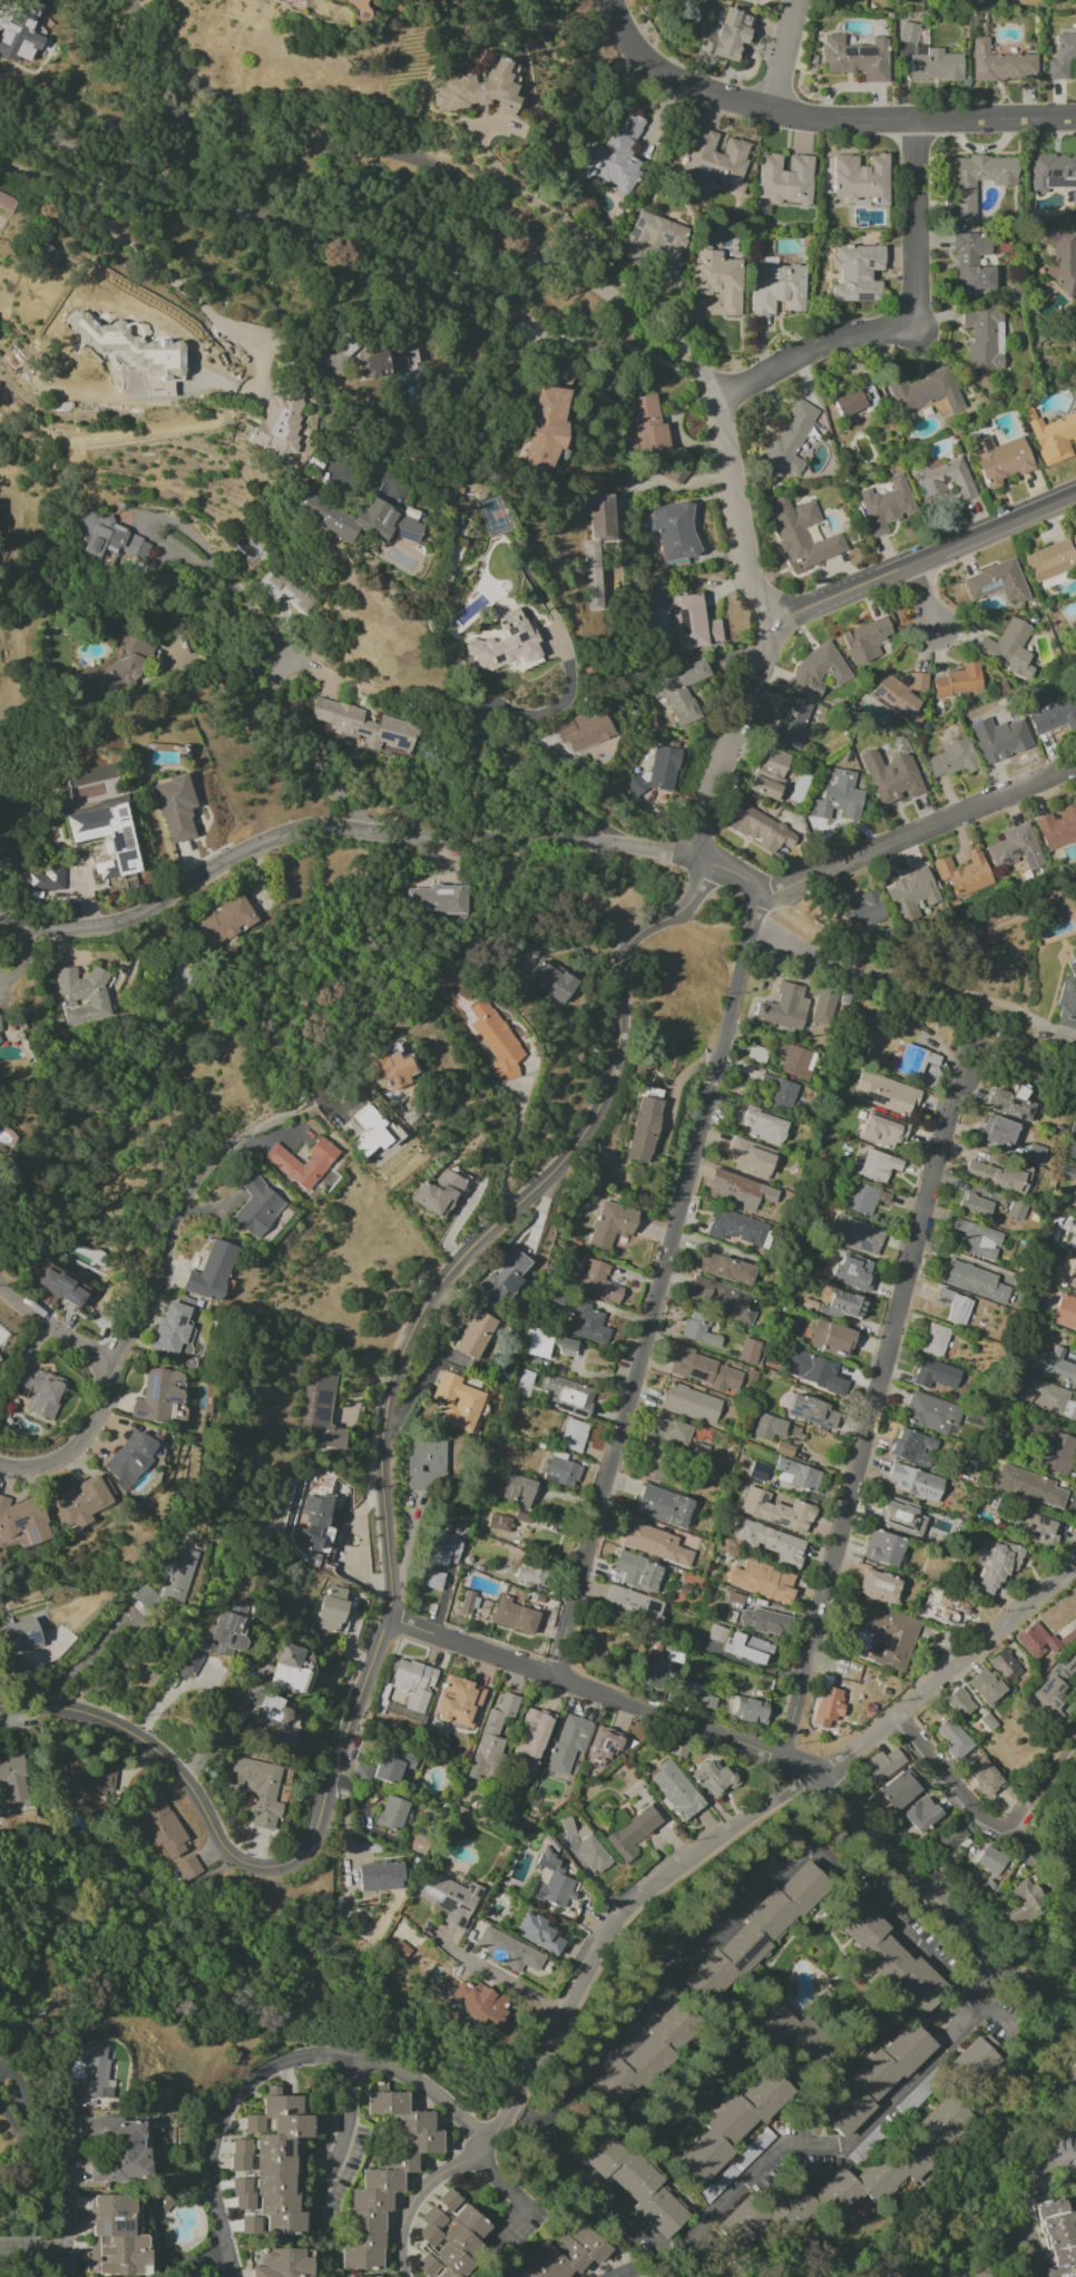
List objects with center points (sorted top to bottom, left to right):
building: (14, 30)
building: (908, 32)
building: (730, 33)
road: (783, 56)
building: (1063, 56)
building: (857, 58)
building: (999, 62)
building: (935, 66)
road: (669, 80)
building: (479, 90)
road: (994, 119)
road: (841, 120)
building: (615, 156)
building: (715, 159)
building: (1054, 174)
building: (784, 178)
building: (860, 178)
road: (420, 183)
building: (7, 201)
building: (963, 202)
road: (546, 207)
road: (271, 218)
building: (656, 240)
road: (129, 245)
building: (1060, 257)
building: (971, 261)
building: (857, 272)
building: (716, 277)
building: (776, 287)
building: (1075, 317)
road: (899, 319)
building: (984, 339)
building: (133, 351)
building: (373, 361)
building: (563, 374)
building: (923, 391)
building: (855, 400)
building: (281, 420)
building: (547, 427)
building: (648, 427)
road: (341, 432)
building: (1054, 438)
building: (789, 439)
building: (1000, 459)
building: (942, 479)
road: (665, 483)
building: (886, 505)
road: (737, 516)
building: (361, 519)
building: (675, 530)
building: (802, 532)
building: (105, 535)
building: (1075, 536)
building: (597, 546)
road: (925, 560)
building: (1049, 560)
building: (997, 582)
road: (927, 600)
building: (693, 622)
road: (265, 627)
building: (864, 639)
building: (503, 643)
building: (1008, 648)
building: (818, 670)
road: (209, 673)
building: (958, 681)
building: (683, 691)
building: (900, 696)
building: (1047, 713)
building: (791, 721)
building: (363, 726)
road: (732, 735)
building: (1002, 737)
building: (951, 759)
building: (656, 771)
building: (770, 774)
building: (891, 776)
building: (837, 797)
road: (627, 799)
building: (175, 807)
building: (755, 827)
building: (1057, 827)
road: (338, 828)
road: (918, 830)
building: (104, 834)
building: (1015, 848)
road: (727, 871)
building: (963, 873)
building: (47, 878)
building: (910, 893)
building: (438, 900)
building: (859, 911)
building: (224, 921)
building: (967, 930)
road: (577, 944)
building: (551, 980)
building: (796, 987)
building: (82, 995)
building: (1067, 999)
road: (1068, 1037)
building: (496, 1040)
building: (0, 1043)
building: (794, 1059)
building: (920, 1065)
building: (391, 1066)
building: (776, 1092)
building: (887, 1094)
building: (1010, 1103)
building: (366, 1121)
building: (763, 1124)
building: (643, 1130)
building: (883, 1130)
building: (997, 1131)
road: (511, 1144)
building: (1035, 1154)
building: (751, 1157)
building: (281, 1160)
building: (878, 1165)
building: (998, 1175)
building: (741, 1190)
building: (438, 1193)
building: (1074, 1193)
building: (865, 1199)
building: (975, 1205)
building: (256, 1208)
building: (1015, 1210)
building: (612, 1224)
building: (735, 1228)
building: (858, 1234)
building: (977, 1239)
building: (723, 1267)
building: (212, 1271)
building: (853, 1272)
building: (503, 1277)
building: (974, 1281)
building: (1074, 1281)
building: (600, 1282)
road: (658, 1284)
road: (156, 1298)
building: (723, 1299)
building: (842, 1304)
building: (952, 1306)
building: (1065, 1312)
road: (49, 1322)
building: (587, 1323)
building: (698, 1330)
building: (173, 1331)
road: (409, 1335)
building: (475, 1335)
building: (830, 1338)
building: (933, 1340)
building: (548, 1343)
building: (749, 1350)
building: (1073, 1351)
building: (1053, 1364)
building: (704, 1370)
building: (812, 1370)
building: (936, 1375)
building: (40, 1392)
building: (157, 1395)
building: (568, 1395)
building: (1041, 1395)
building: (457, 1401)
building: (691, 1404)
road: (876, 1406)
building: (321, 1410)
building: (811, 1411)
building: (931, 1414)
building: (769, 1427)
building: (671, 1430)
building: (573, 1435)
building: (910, 1445)
building: (1048, 1446)
building: (783, 1448)
building: (700, 1452)
building: (130, 1457)
building: (424, 1463)
building: (757, 1470)
building: (561, 1472)
building: (796, 1475)
building: (914, 1483)
building: (1028, 1486)
building: (515, 1489)
building: (82, 1502)
building: (664, 1506)
building: (774, 1511)
building: (900, 1516)
building: (22, 1522)
building: (499, 1523)
building: (316, 1526)
building: (1036, 1528)
building: (771, 1543)
building: (655, 1544)
building: (882, 1548)
building: (443, 1550)
building: (998, 1565)
building: (638, 1572)
building: (177, 1574)
building: (529, 1574)
building: (431, 1579)
building: (762, 1582)
building: (879, 1586)
building: (146, 1595)
building: (734, 1601)
building: (468, 1602)
building: (633, 1605)
building: (331, 1609)
building: (947, 1610)
building: (513, 1615)
building: (764, 1622)
building: (226, 1630)
building: (716, 1633)
building: (20, 1635)
building: (890, 1638)
building: (1041, 1641)
road: (472, 1646)
building: (747, 1648)
road: (82, 1659)
building: (188, 1663)
building: (1004, 1665)
road: (950, 1668)
building: (292, 1669)
building: (649, 1674)
building: (413, 1683)
building: (985, 1687)
building: (1054, 1691)
road: (172, 1694)
building: (693, 1694)
building: (459, 1702)
building: (958, 1702)
building: (826, 1706)
building: (749, 1710)
building: (272, 1718)
building: (987, 1722)
road: (223, 1733)
building: (492, 1738)
building: (532, 1739)
building: (952, 1739)
building: (567, 1742)
road: (154, 1743)
building: (605, 1746)
building: (678, 1747)
building: (391, 1766)
building: (881, 1766)
building: (362, 1771)
road: (946, 1772)
building: (985, 1776)
building: (13, 1777)
building: (84, 1779)
building: (715, 1779)
road: (837, 1784)
building: (258, 1789)
building: (900, 1789)
building: (675, 1790)
road: (1040, 1795)
building: (391, 1814)
building: (921, 1814)
building: (160, 1826)
building: (632, 1833)
building: (947, 1843)
building: (419, 1844)
building: (987, 1863)
building: (188, 1868)
building: (380, 1876)
building: (551, 1882)
building: (448, 1897)
building: (1019, 1903)
park: (1070, 1906)
road: (746, 1907)
building: (755, 1933)
building: (538, 1934)
building: (400, 1949)
building: (507, 1949)
building: (889, 1956)
road: (499, 1973)
road: (571, 1994)
road: (1062, 2001)
building: (480, 2003)
road: (1074, 2005)
building: (780, 2026)
building: (640, 2059)
building: (970, 2063)
road: (273, 2065)
building: (88, 2071)
building: (876, 2078)
road: (20, 2105)
road: (879, 2111)
building: (731, 2123)
road: (12, 2128)
road: (1070, 2134)
road: (344, 2136)
road: (1070, 2146)
building: (117, 2149)
building: (239, 2154)
building: (277, 2159)
building: (384, 2179)
building: (632, 2181)
building: (848, 2182)
road: (27, 2187)
building: (243, 2193)
road: (68, 2197)
road: (515, 2197)
building: (449, 2199)
road: (1026, 2200)
road: (615, 2206)
building: (251, 2225)
building: (1056, 2231)
building: (115, 2235)
building: (450, 2240)
road: (33, 2242)
building: (563, 2255)
road: (199, 2258)
building: (283, 2264)
building: (358, 2276)
building: (986, 2276)

